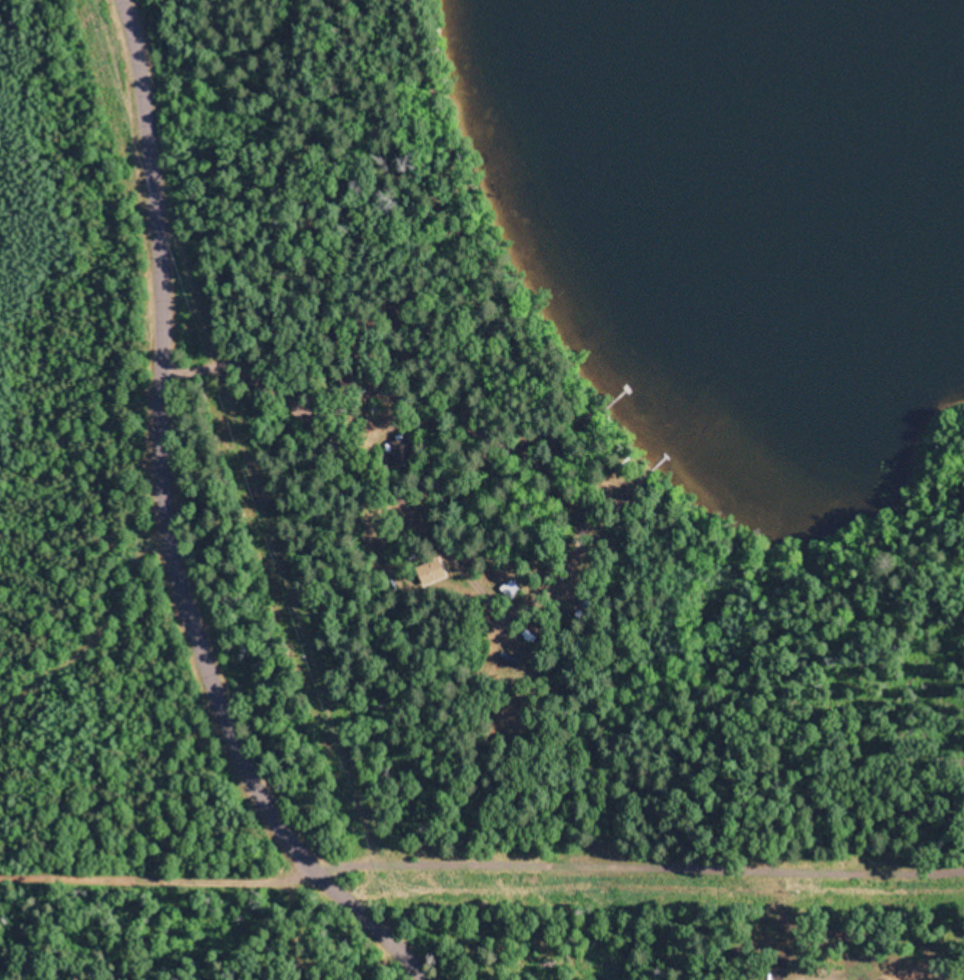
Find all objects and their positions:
road: (134, 525)
building: (435, 573)
road: (71, 620)

